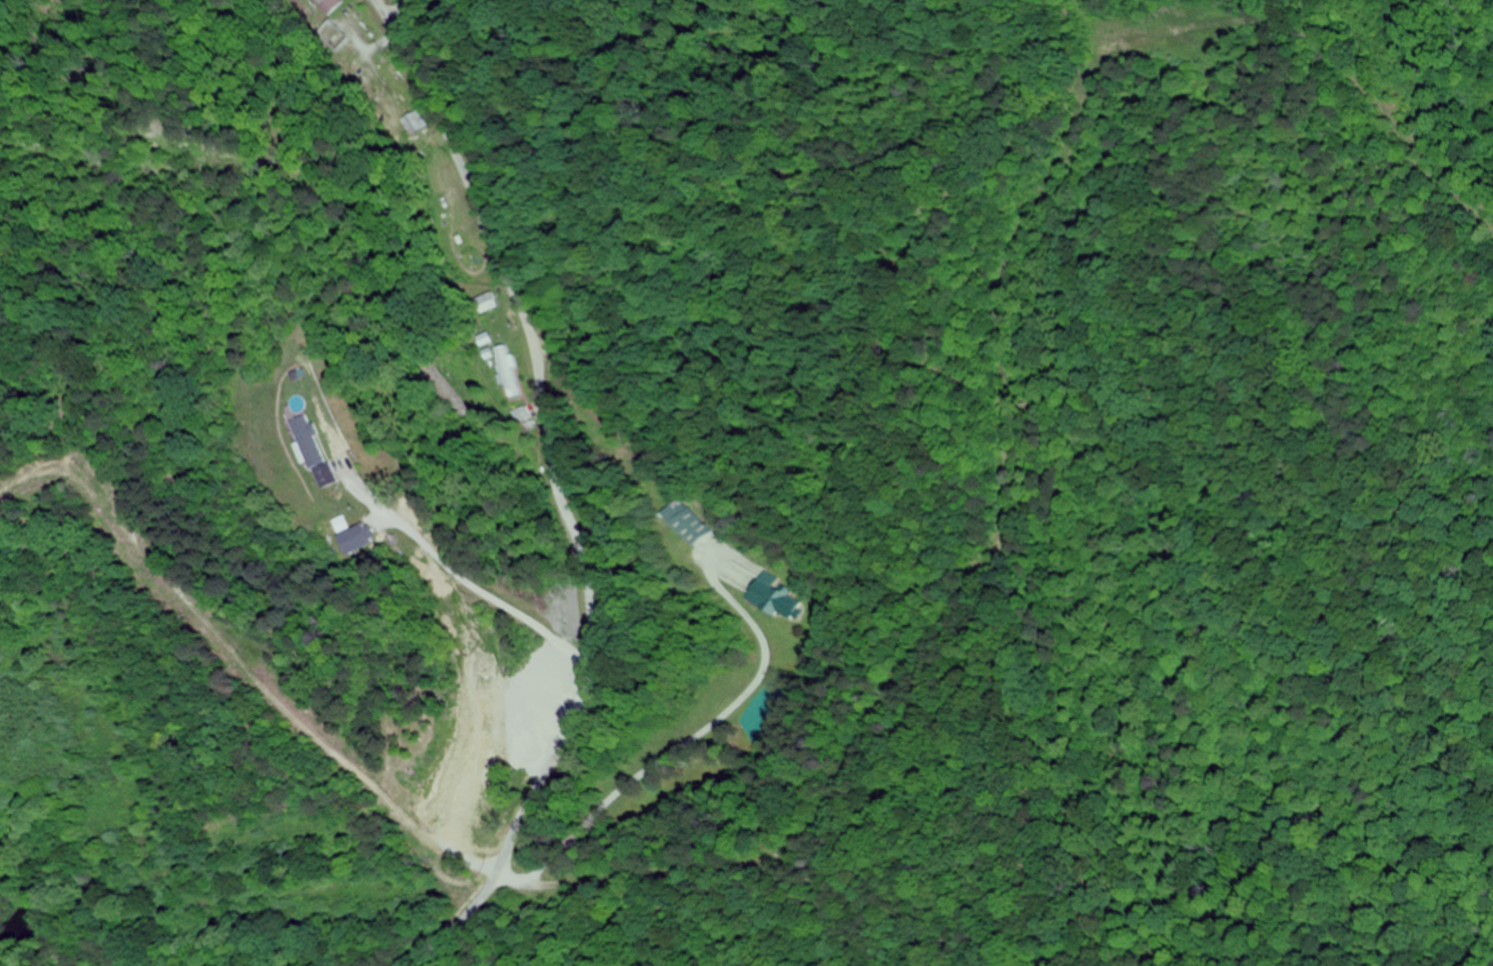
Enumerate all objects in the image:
building: (329, 5)
building: (507, 372)
road: (840, 373)
building: (308, 451)
road: (556, 498)
building: (685, 523)
building: (763, 597)
building: (449, 788)

